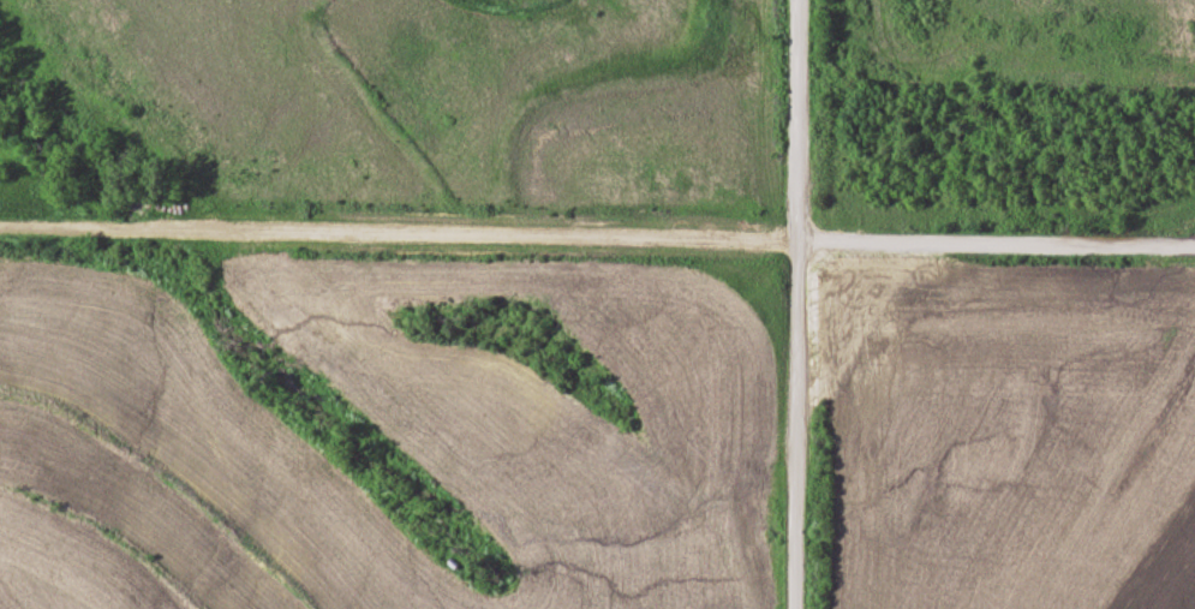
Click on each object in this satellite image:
road: (597, 240)
road: (794, 304)

